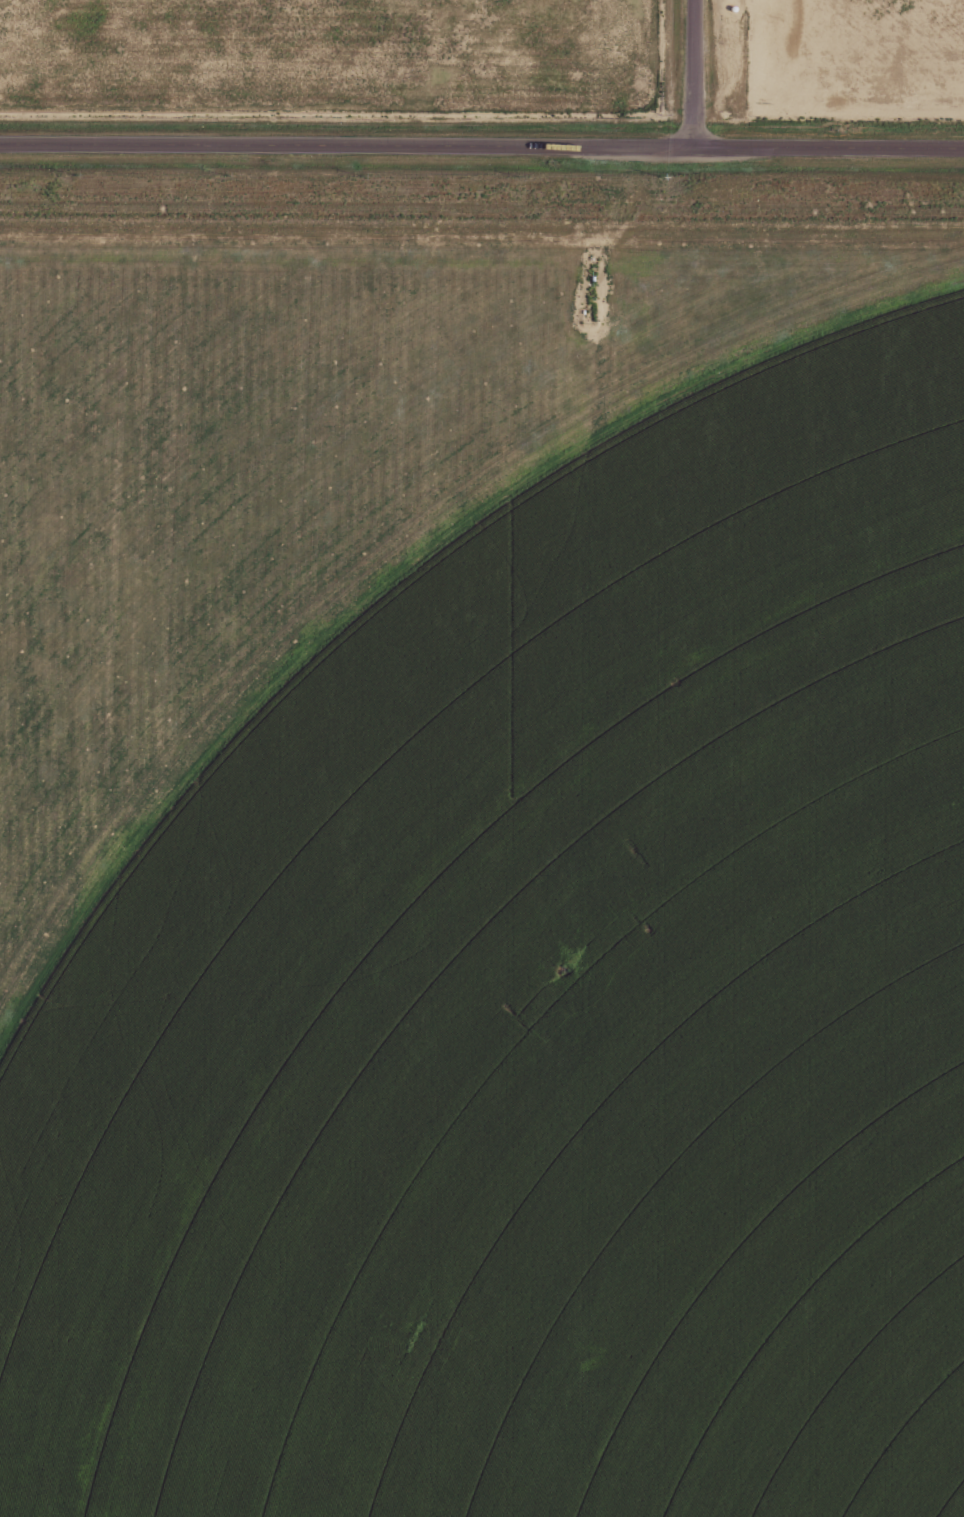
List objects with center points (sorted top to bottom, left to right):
road: (695, 71)
road: (482, 142)

